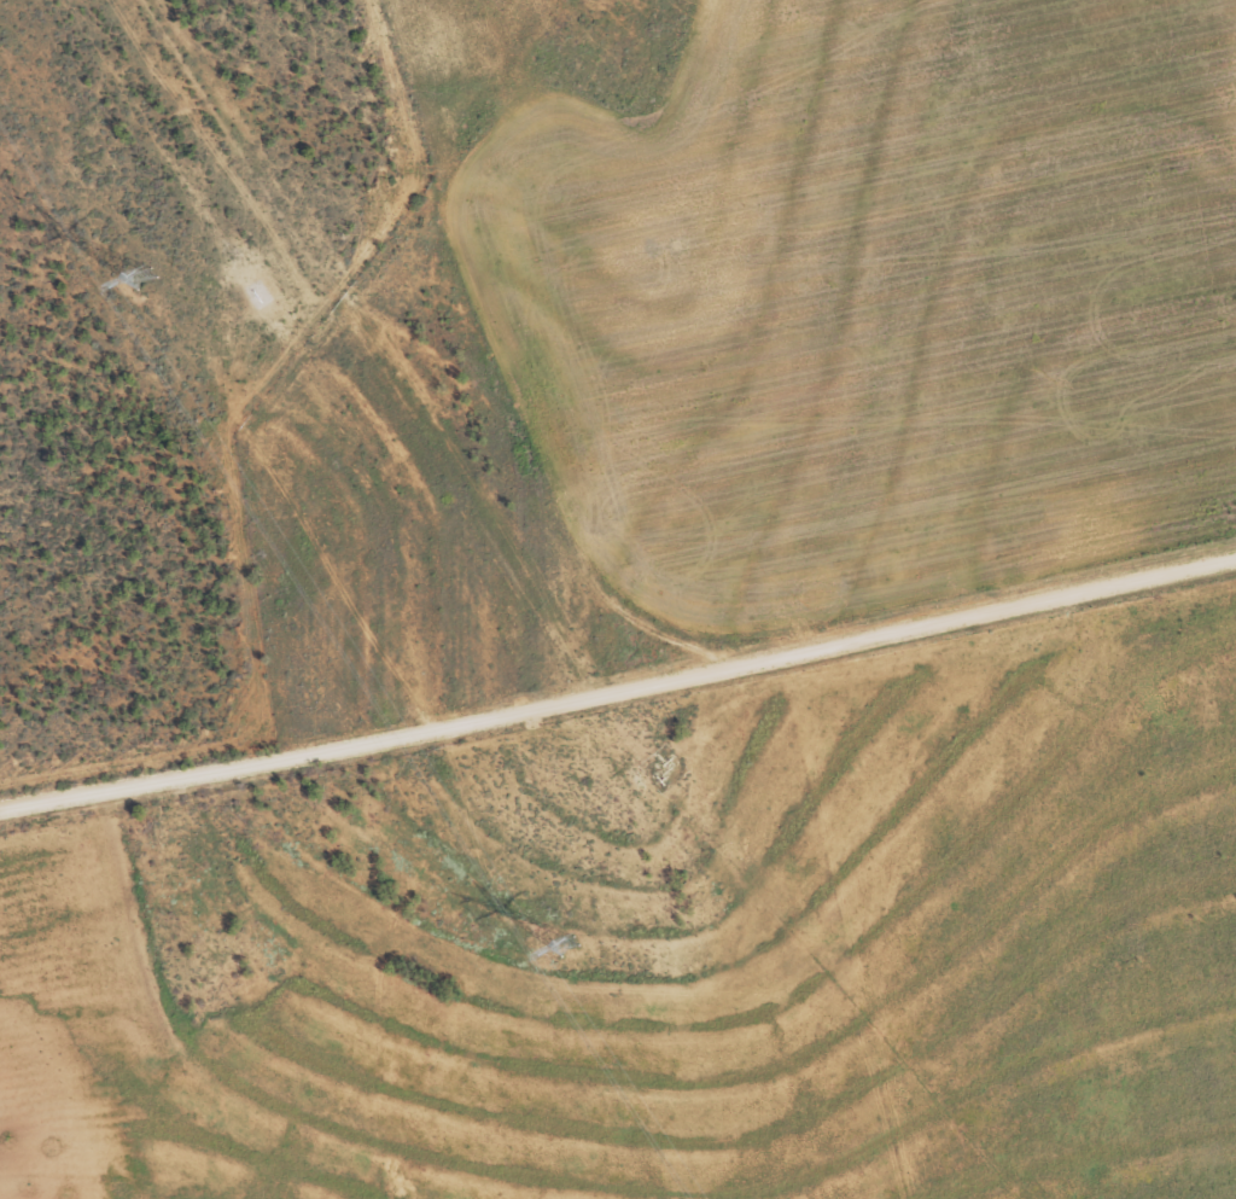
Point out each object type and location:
power tower: (142, 275)
road: (495, 342)
road: (617, 685)
power tower: (565, 943)

